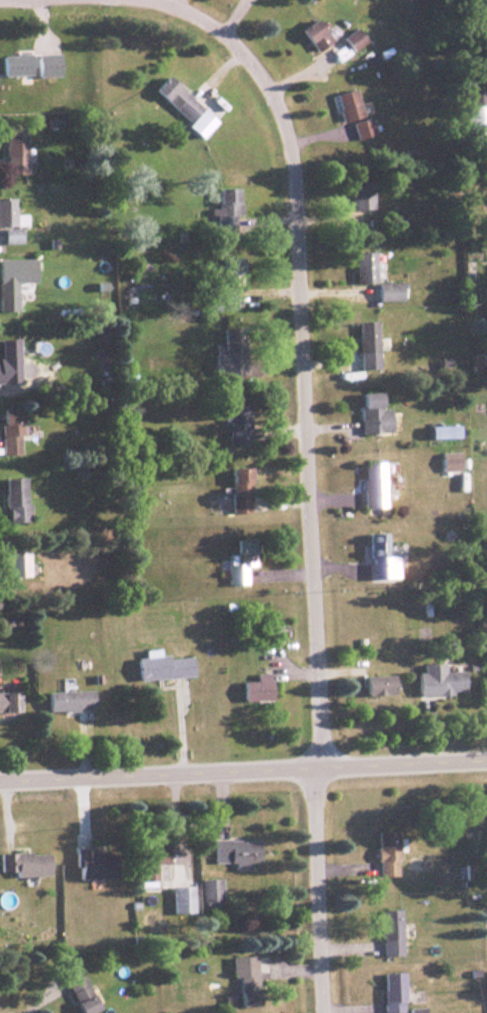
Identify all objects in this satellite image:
building: (311, 35)
building: (350, 39)
building: (13, 65)
building: (345, 105)
building: (180, 106)
building: (472, 113)
building: (360, 129)
building: (12, 151)
building: (359, 195)
building: (222, 201)
building: (9, 223)
building: (362, 267)
building: (227, 271)
building: (11, 280)
building: (387, 292)
building: (219, 299)
building: (365, 345)
building: (228, 353)
road: (306, 357)
building: (8, 366)
building: (371, 414)
building: (236, 421)
building: (15, 433)
building: (448, 461)
building: (370, 484)
building: (238, 492)
building: (14, 500)
building: (378, 558)
building: (237, 560)
building: (15, 561)
building: (269, 634)
building: (161, 667)
building: (436, 680)
building: (377, 685)
building: (253, 689)
building: (66, 700)
building: (6, 702)
road: (243, 767)
building: (234, 852)
building: (386, 853)
building: (149, 861)
building: (92, 863)
building: (23, 864)
road: (320, 888)
building: (210, 893)
building: (178, 900)
building: (389, 933)
building: (243, 981)
building: (77, 990)
building: (391, 992)

